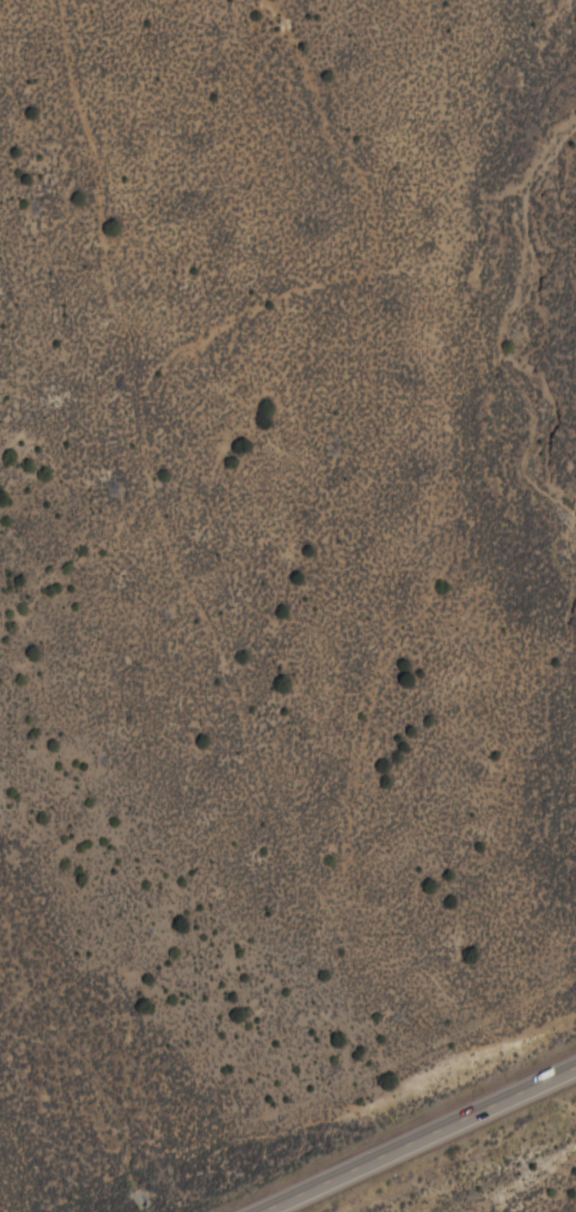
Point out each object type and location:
road: (413, 1137)

